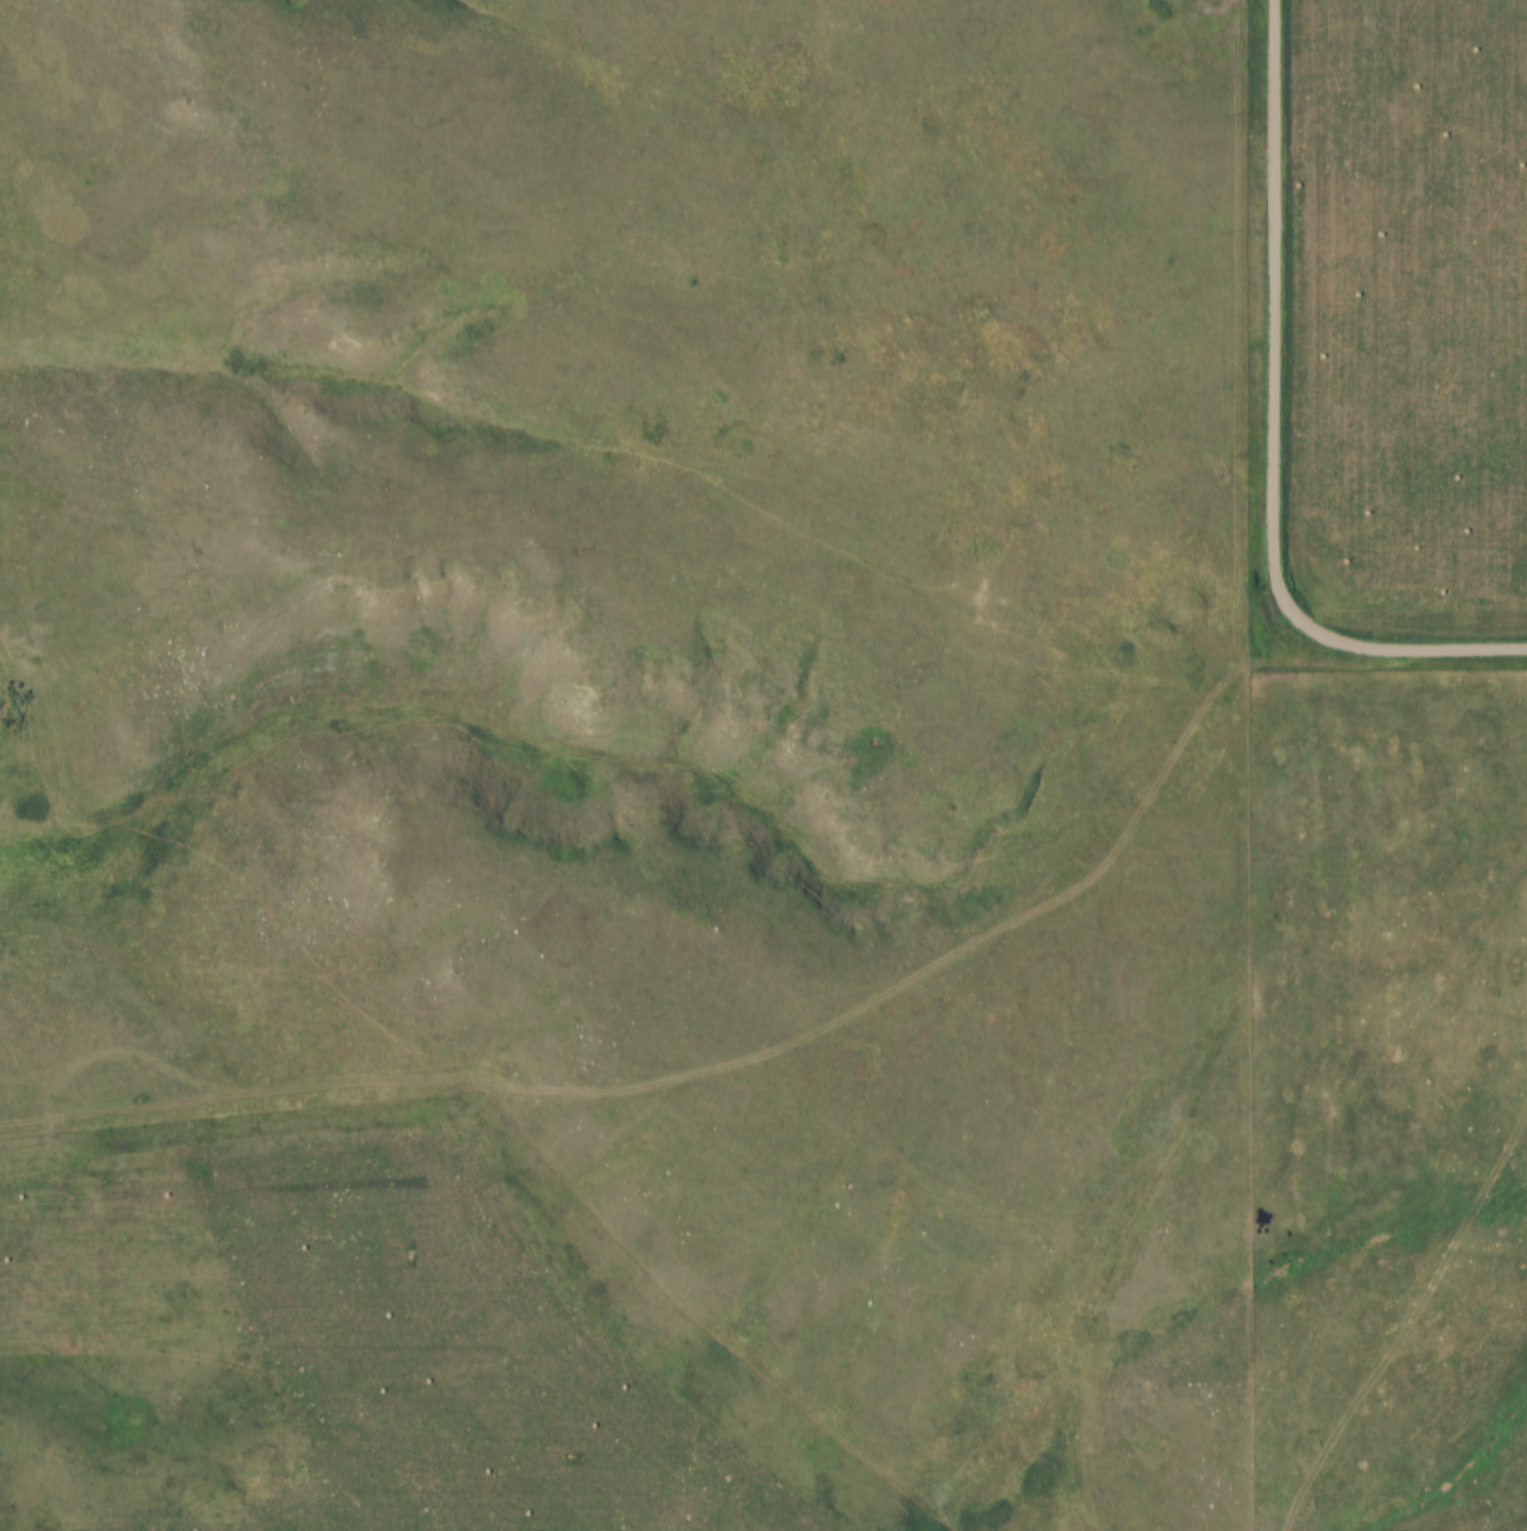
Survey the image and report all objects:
road: (1274, 427)

